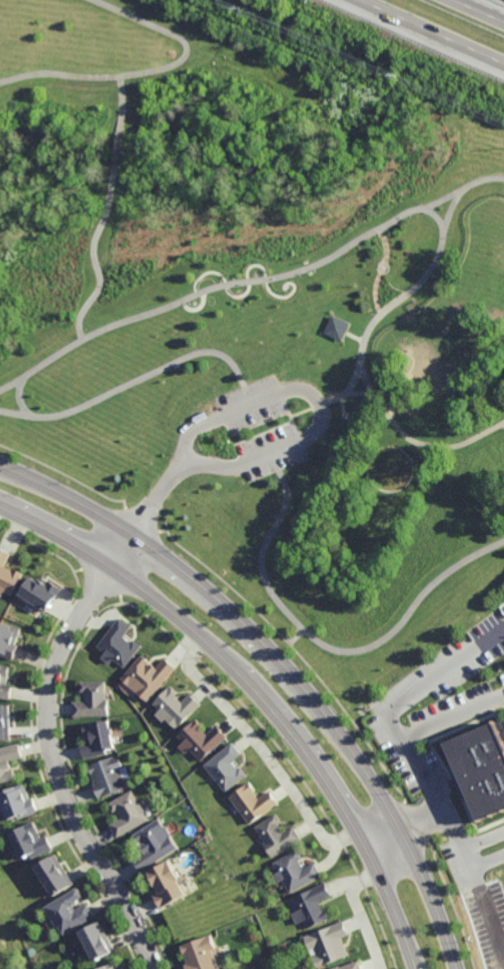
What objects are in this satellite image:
road: (481, 9)
road: (434, 30)
road: (146, 68)
power tower: (408, 77)
road: (122, 93)
road: (115, 150)
road: (478, 182)
road: (428, 209)
road: (96, 266)
road: (382, 270)
road: (200, 292)
road: (242, 294)
road: (403, 294)
park: (261, 311)
building: (337, 327)
road: (139, 377)
road: (365, 379)
road: (20, 400)
road: (315, 402)
road: (500, 423)
parking lot: (260, 429)
road: (417, 440)
road: (66, 474)
road: (155, 498)
road: (142, 520)
building: (8, 572)
building: (41, 589)
building: (10, 637)
building: (117, 643)
road: (322, 645)
road: (281, 669)
building: (147, 675)
building: (5, 679)
road: (259, 691)
building: (91, 699)
road: (398, 701)
building: (174, 706)
road: (452, 718)
building: (4, 721)
building: (96, 738)
building: (200, 738)
road: (261, 751)
road: (53, 753)
building: (8, 761)
building: (226, 766)
building: (480, 769)
building: (106, 775)
building: (253, 801)
building: (17, 802)
building: (127, 813)
road: (407, 830)
building: (276, 834)
building: (29, 841)
building: (152, 844)
road: (465, 852)
building: (294, 872)
building: (53, 875)
building: (165, 884)
building: (309, 906)
building: (68, 913)
road: (359, 914)
road: (485, 915)
building: (95, 942)
building: (327, 944)
building: (200, 954)
building: (350, 966)
building: (110, 967)

